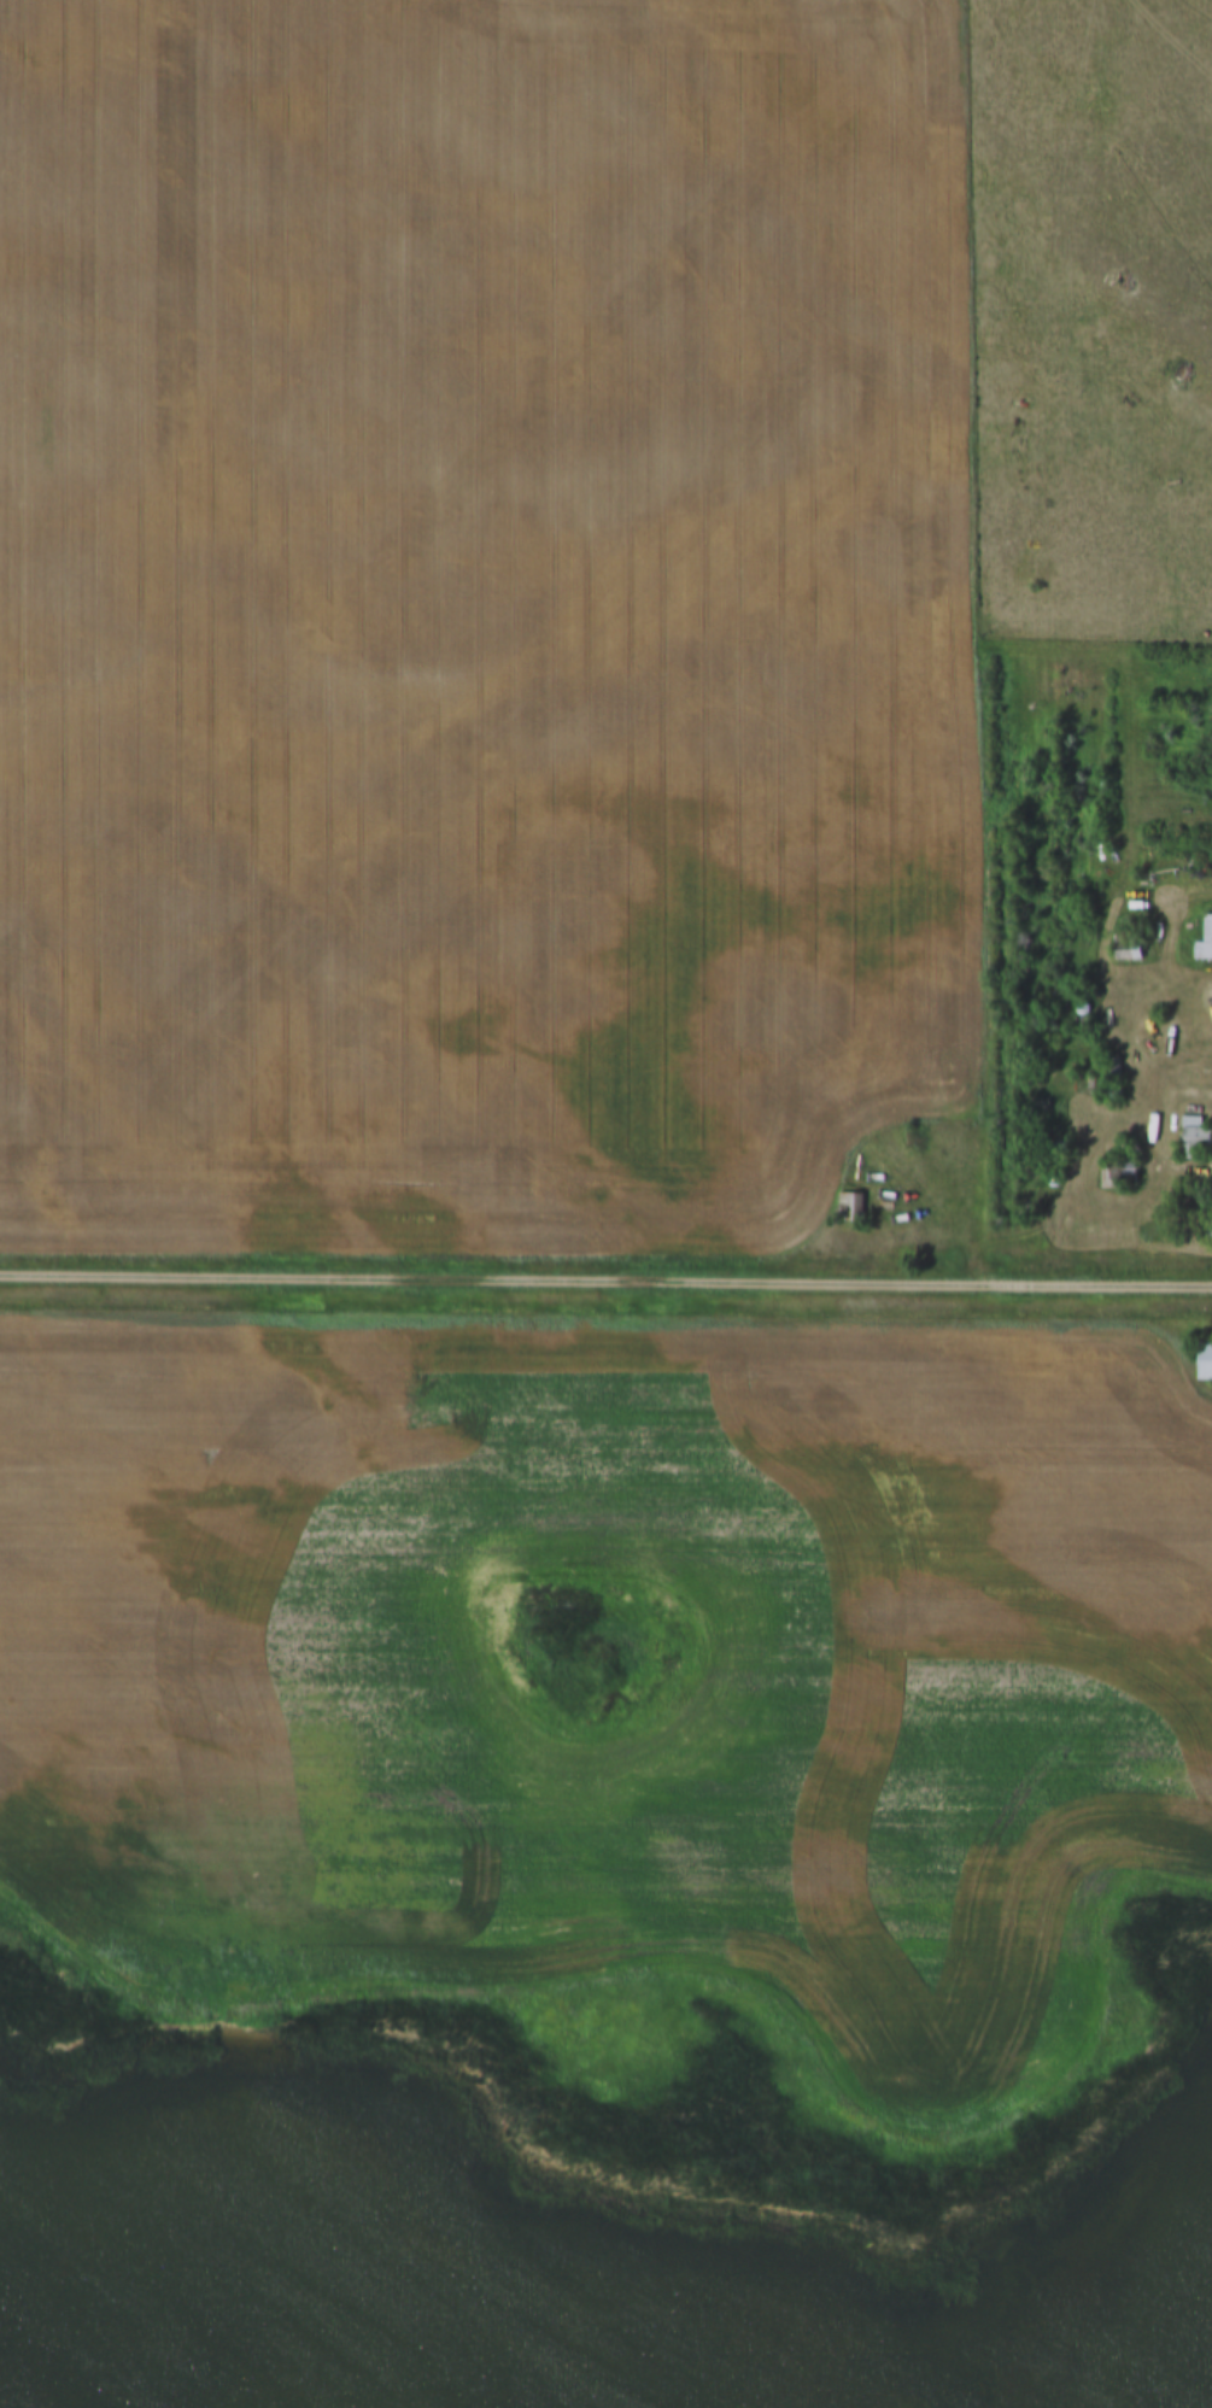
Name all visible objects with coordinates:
building: (1205, 939)
building: (1128, 950)
road: (1170, 1136)
building: (1195, 1136)
building: (1122, 1171)
building: (851, 1203)
road: (605, 1281)
building: (1205, 1359)

